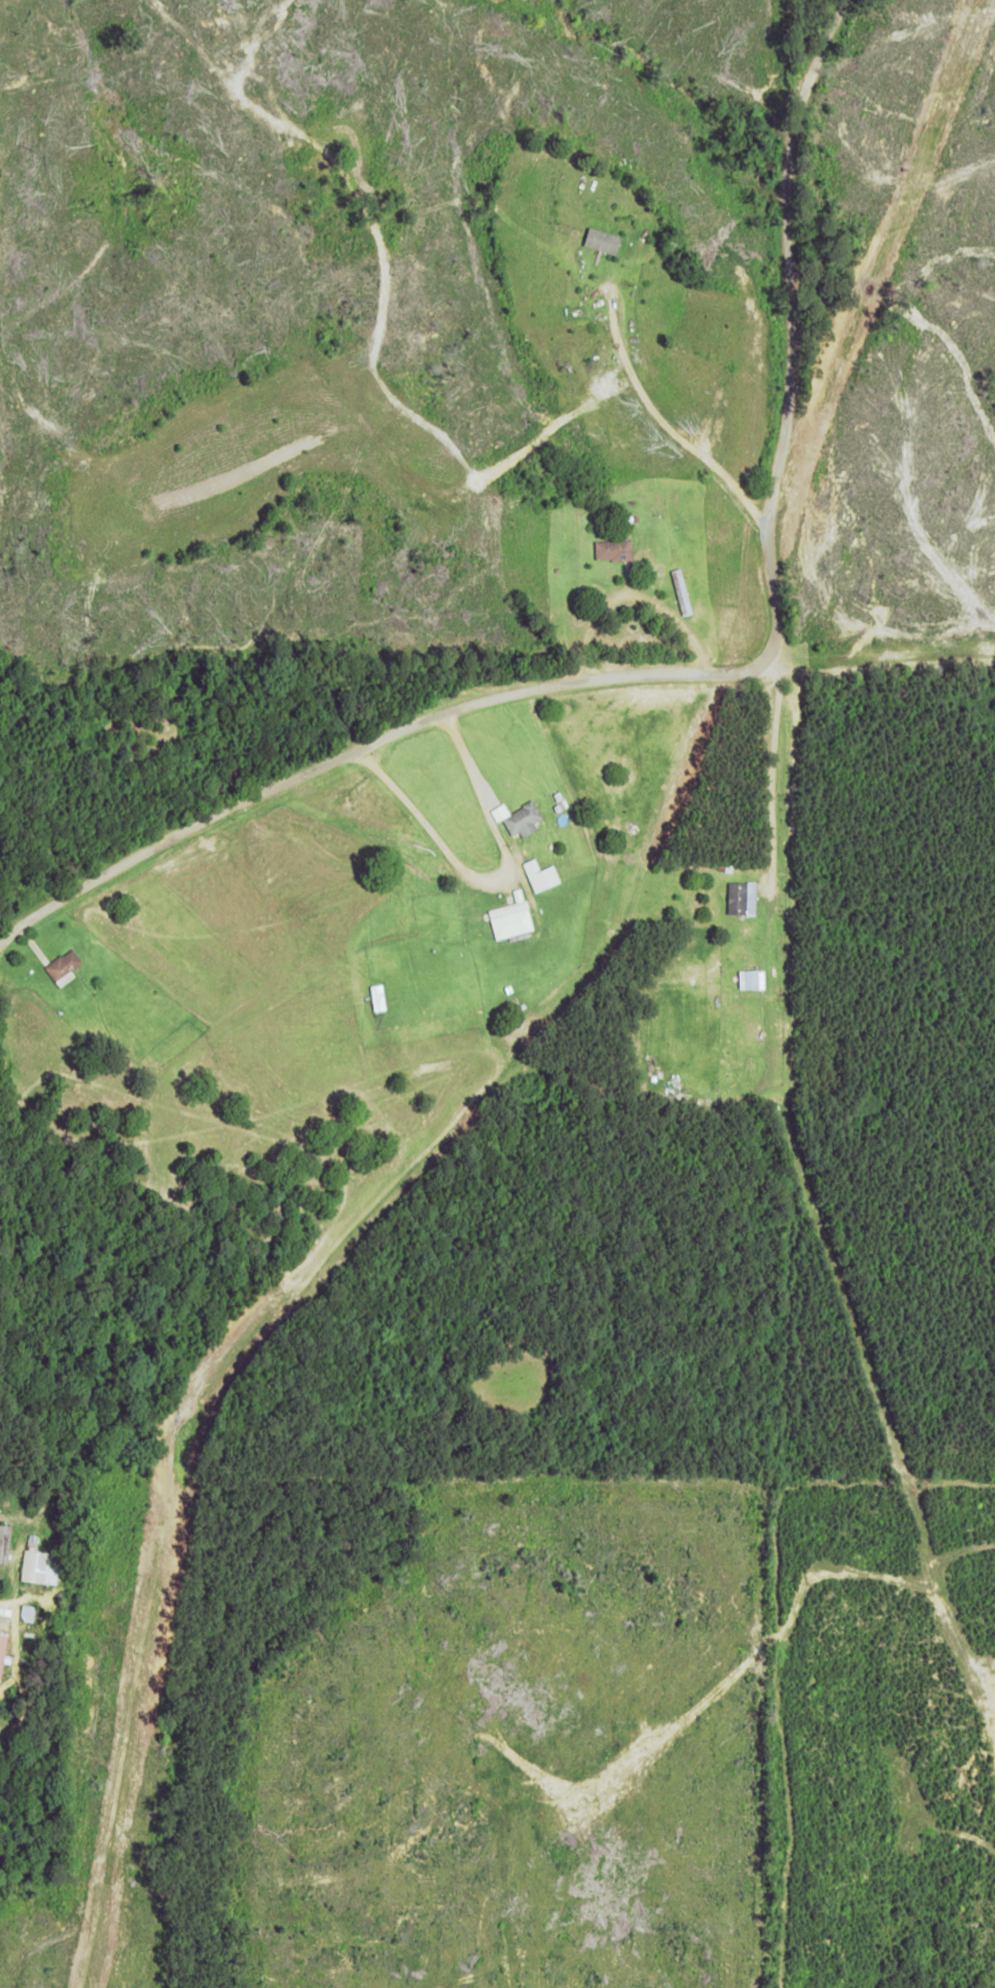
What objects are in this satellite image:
building: (602, 241)
building: (613, 550)
road: (692, 683)
building: (518, 817)
building: (541, 874)
building: (741, 897)
building: (63, 964)
building: (752, 978)
building: (4, 1542)
building: (39, 1566)
building: (2, 1649)

